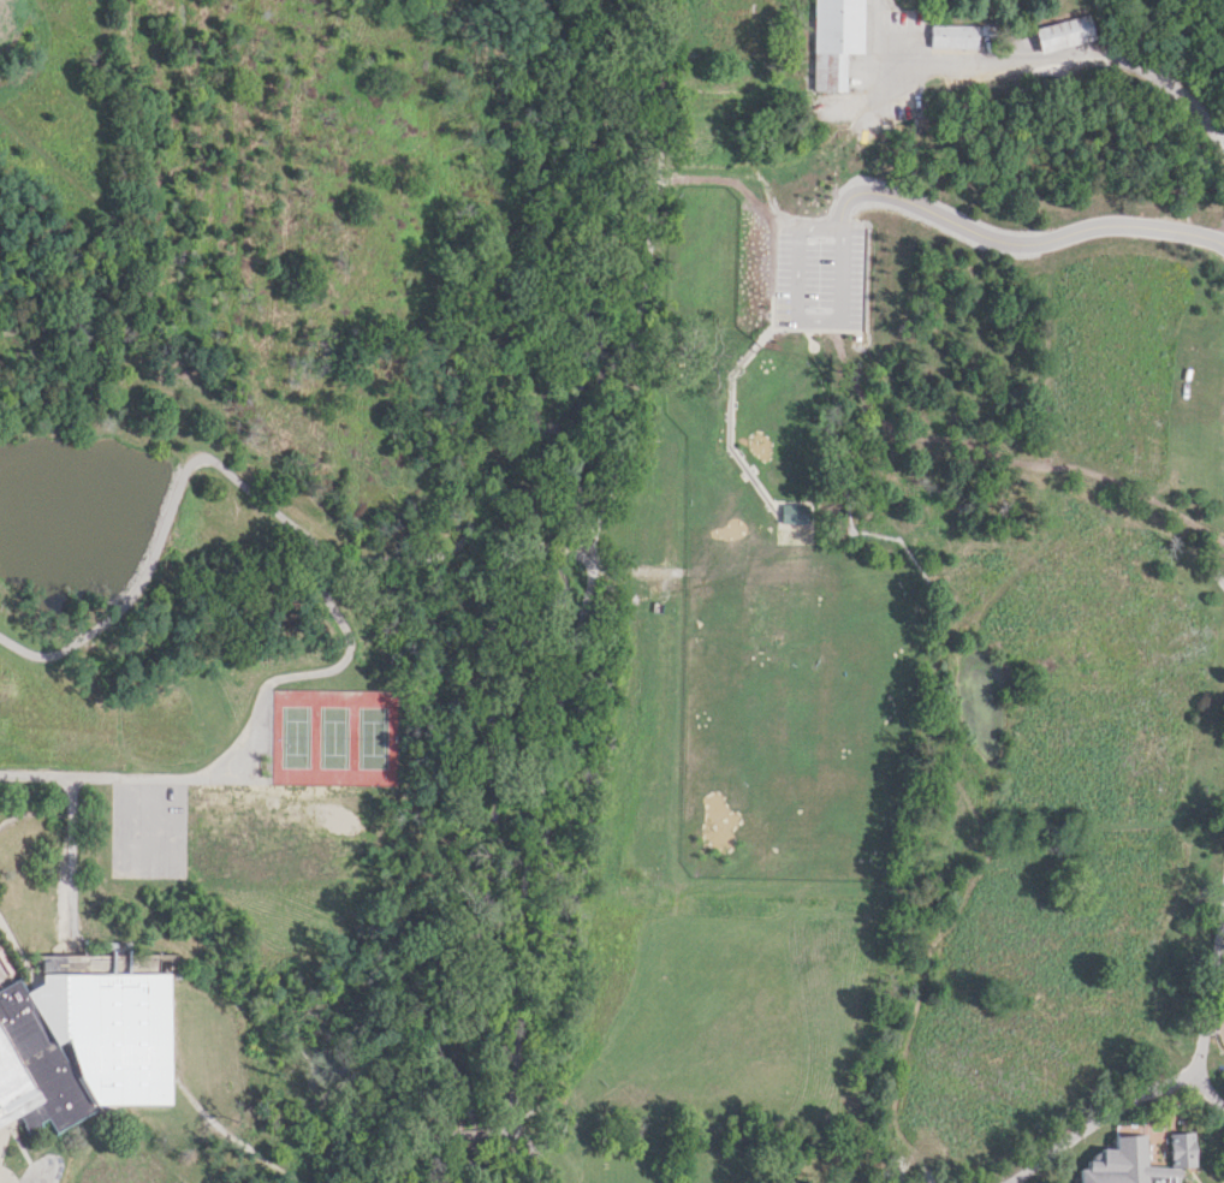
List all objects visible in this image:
building: (1065, 28)
building: (955, 34)
building: (833, 40)
road: (1041, 55)
road: (869, 125)
road: (592, 191)
road: (1016, 244)
road: (426, 280)
road: (648, 285)
road: (254, 307)
road: (784, 460)
road: (250, 493)
building: (795, 511)
park: (612, 591)
road: (245, 742)
park: (280, 799)
road: (527, 844)
road: (71, 875)
building: (82, 1038)
road: (1161, 1087)
road: (1206, 1087)
road: (215, 1124)
road: (433, 1140)
road: (533, 1153)
building: (1136, 1159)

